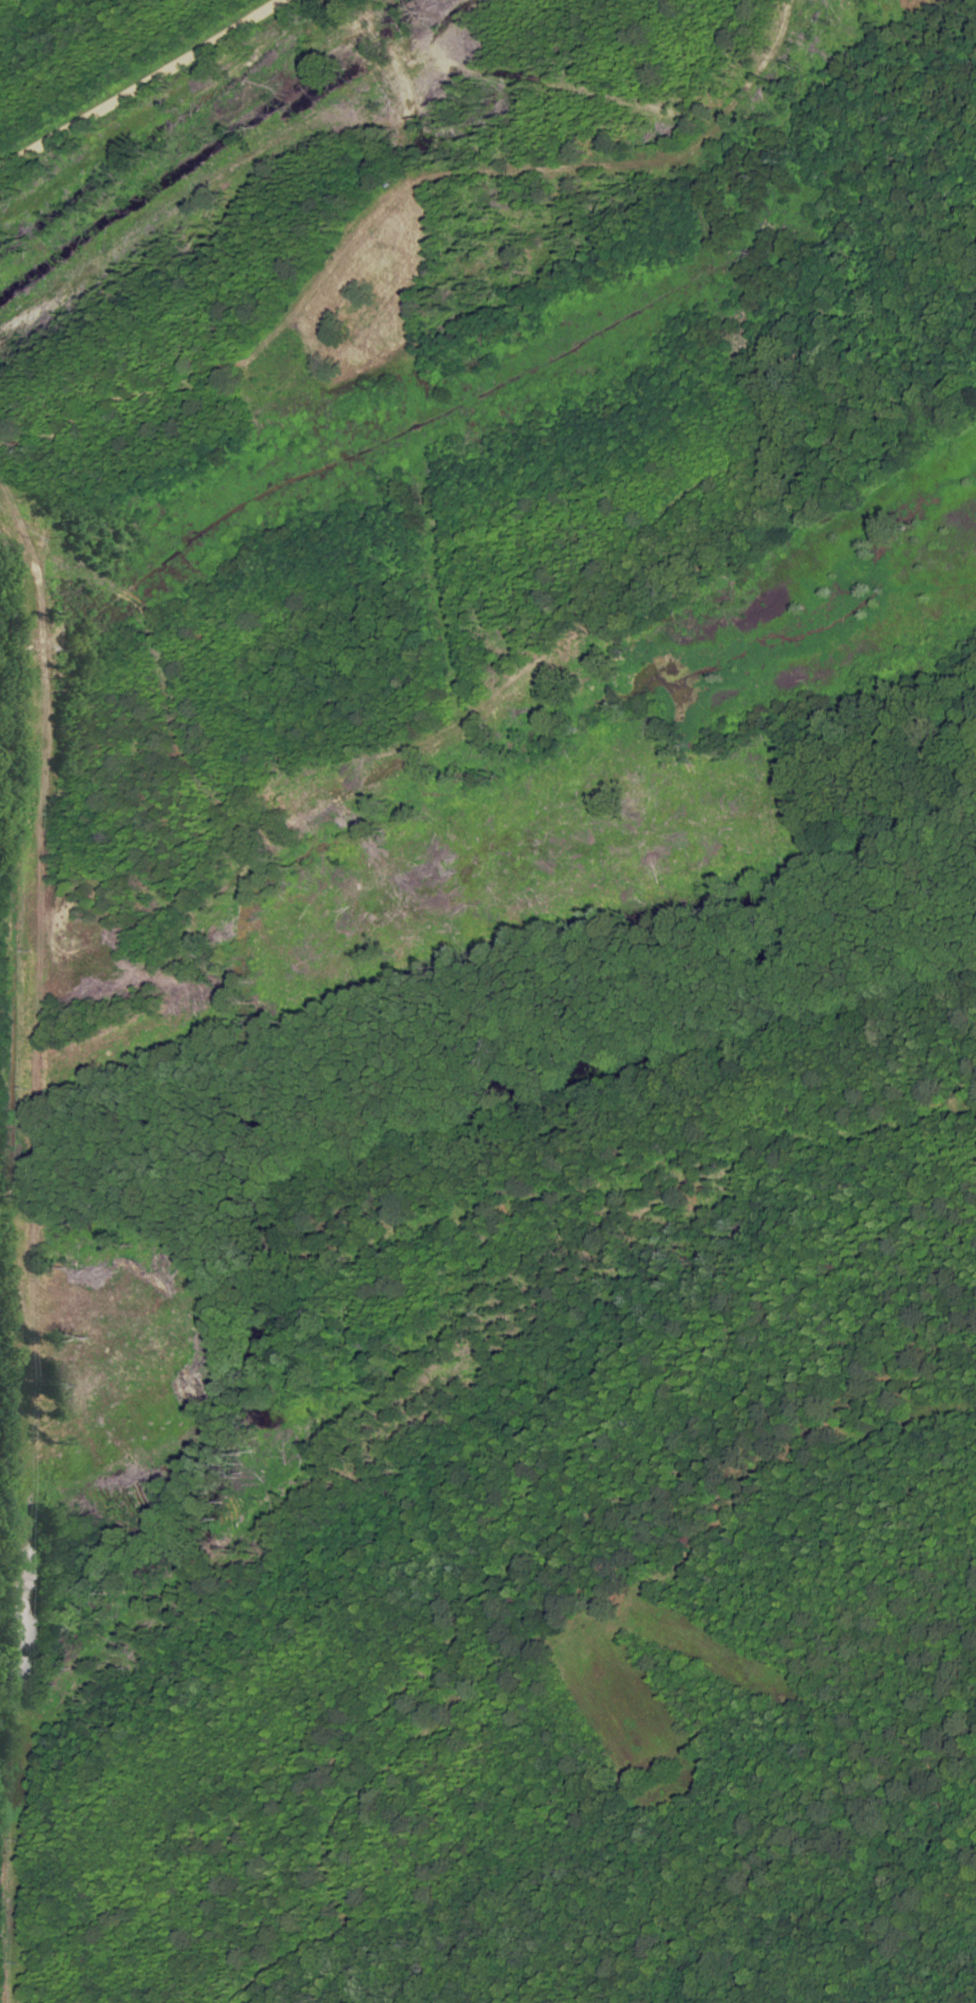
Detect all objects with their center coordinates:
road: (136, 83)

